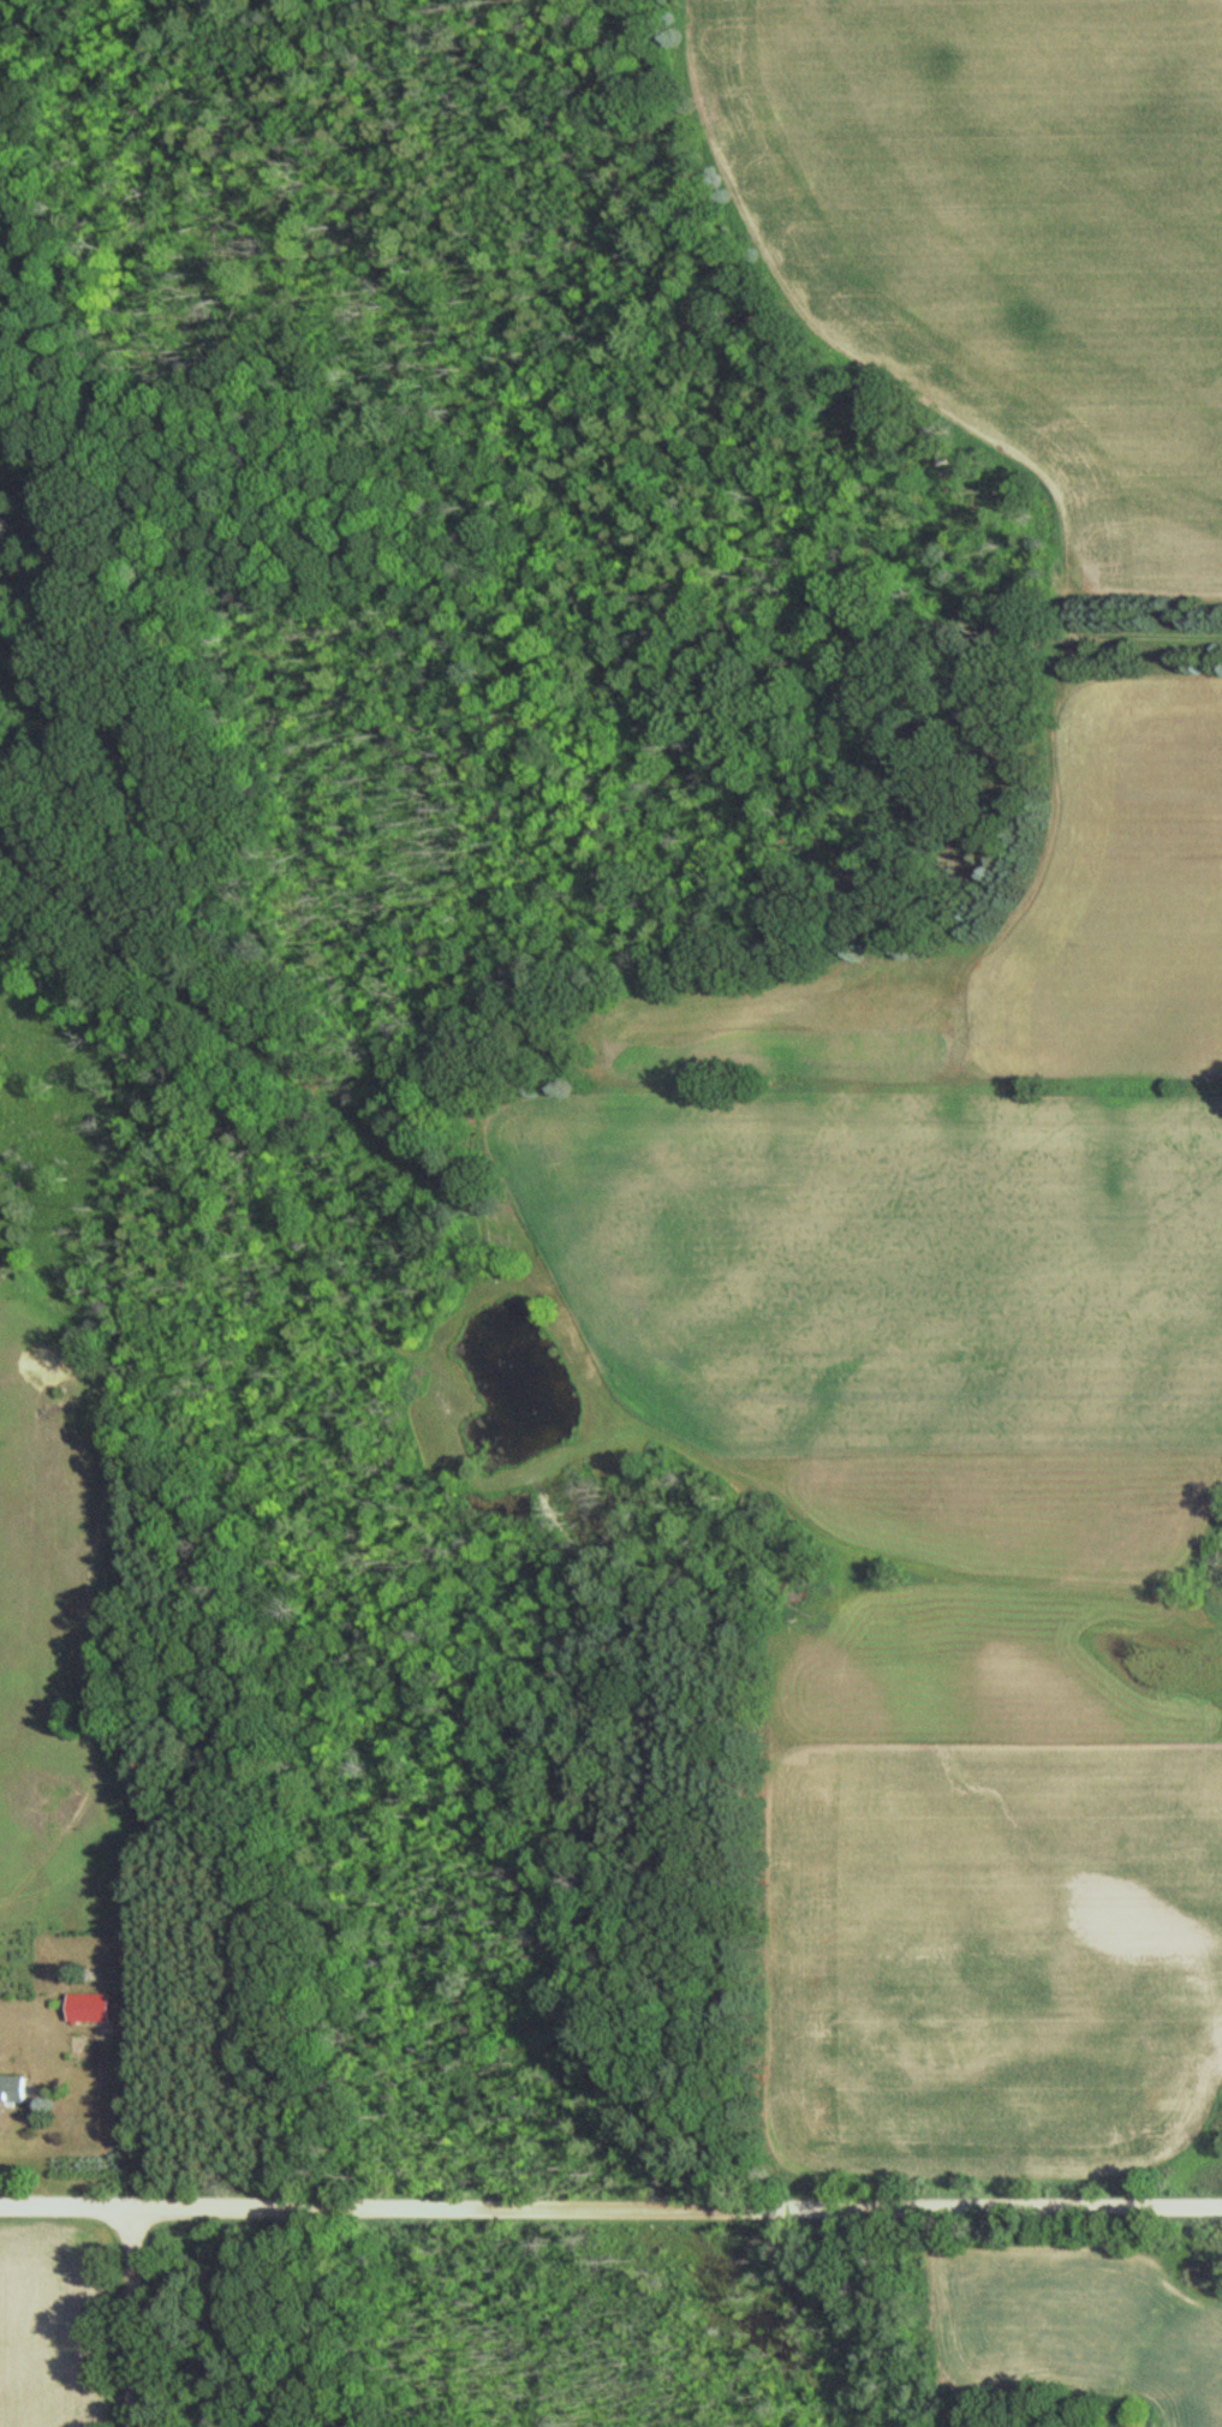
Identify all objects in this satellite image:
building: (90, 2008)
building: (12, 2089)
road: (610, 2207)
road: (133, 2318)

